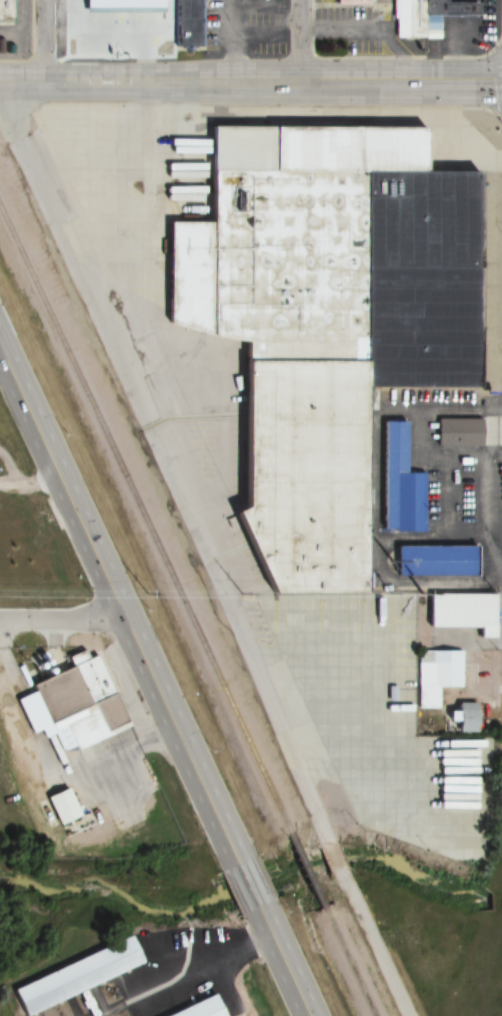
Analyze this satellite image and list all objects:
building: (348, 2)
building: (5, 11)
building: (412, 21)
building: (186, 23)
road: (311, 27)
road: (301, 41)
road: (45, 42)
road: (209, 47)
road: (231, 49)
road: (132, 54)
road: (395, 56)
road: (497, 71)
road: (250, 83)
road: (483, 107)
building: (323, 319)
building: (456, 432)
road: (165, 464)
building: (399, 484)
road: (32, 486)
railway: (142, 520)
building: (432, 560)
road: (117, 599)
building: (460, 612)
building: (435, 675)
building: (71, 705)
building: (464, 717)
building: (76, 820)
road: (334, 856)
railway: (302, 869)
road: (251, 883)
road: (375, 946)
road: (286, 961)
railway: (345, 961)
building: (74, 976)
building: (199, 1009)

